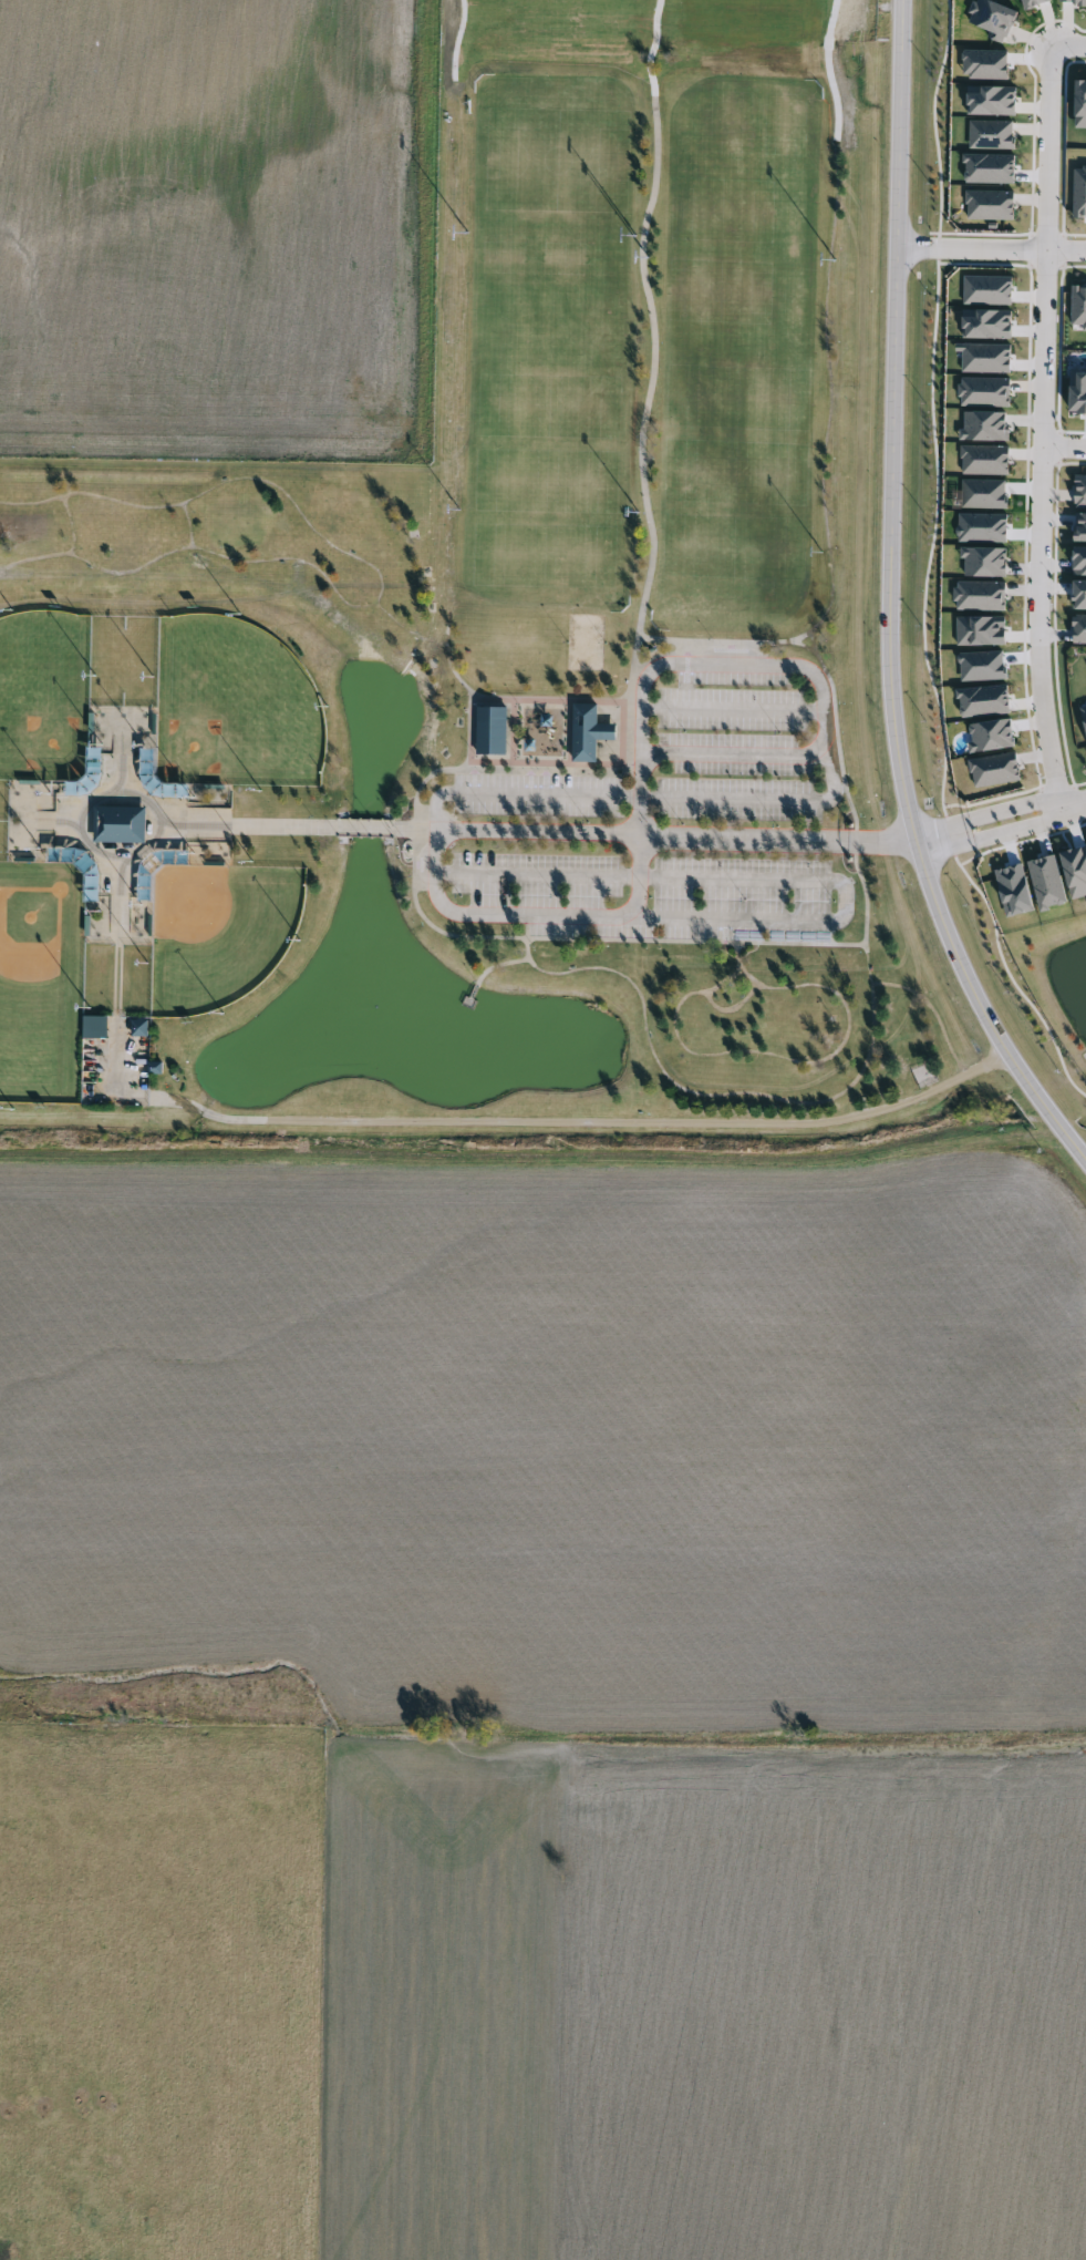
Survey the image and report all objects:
road: (1072, 45)
road: (662, 74)
road: (991, 250)
park: (557, 270)
park: (556, 323)
road: (827, 349)
park: (554, 389)
park: (738, 397)
road: (1038, 427)
road: (1062, 449)
park: (552, 471)
park: (735, 477)
park: (550, 552)
park: (732, 558)
road: (889, 604)
park: (507, 681)
road: (468, 687)
park: (43, 696)
park: (234, 706)
road: (732, 712)
building: (487, 729)
road: (826, 730)
building: (583, 731)
road: (838, 731)
road: (735, 758)
road: (1001, 823)
building: (115, 824)
road: (537, 872)
road: (639, 896)
park: (218, 933)
road: (515, 938)
road: (494, 969)
park: (41, 980)
road: (733, 1008)
road: (944, 1034)
road: (777, 1056)
road: (759, 1095)
road: (594, 1121)

